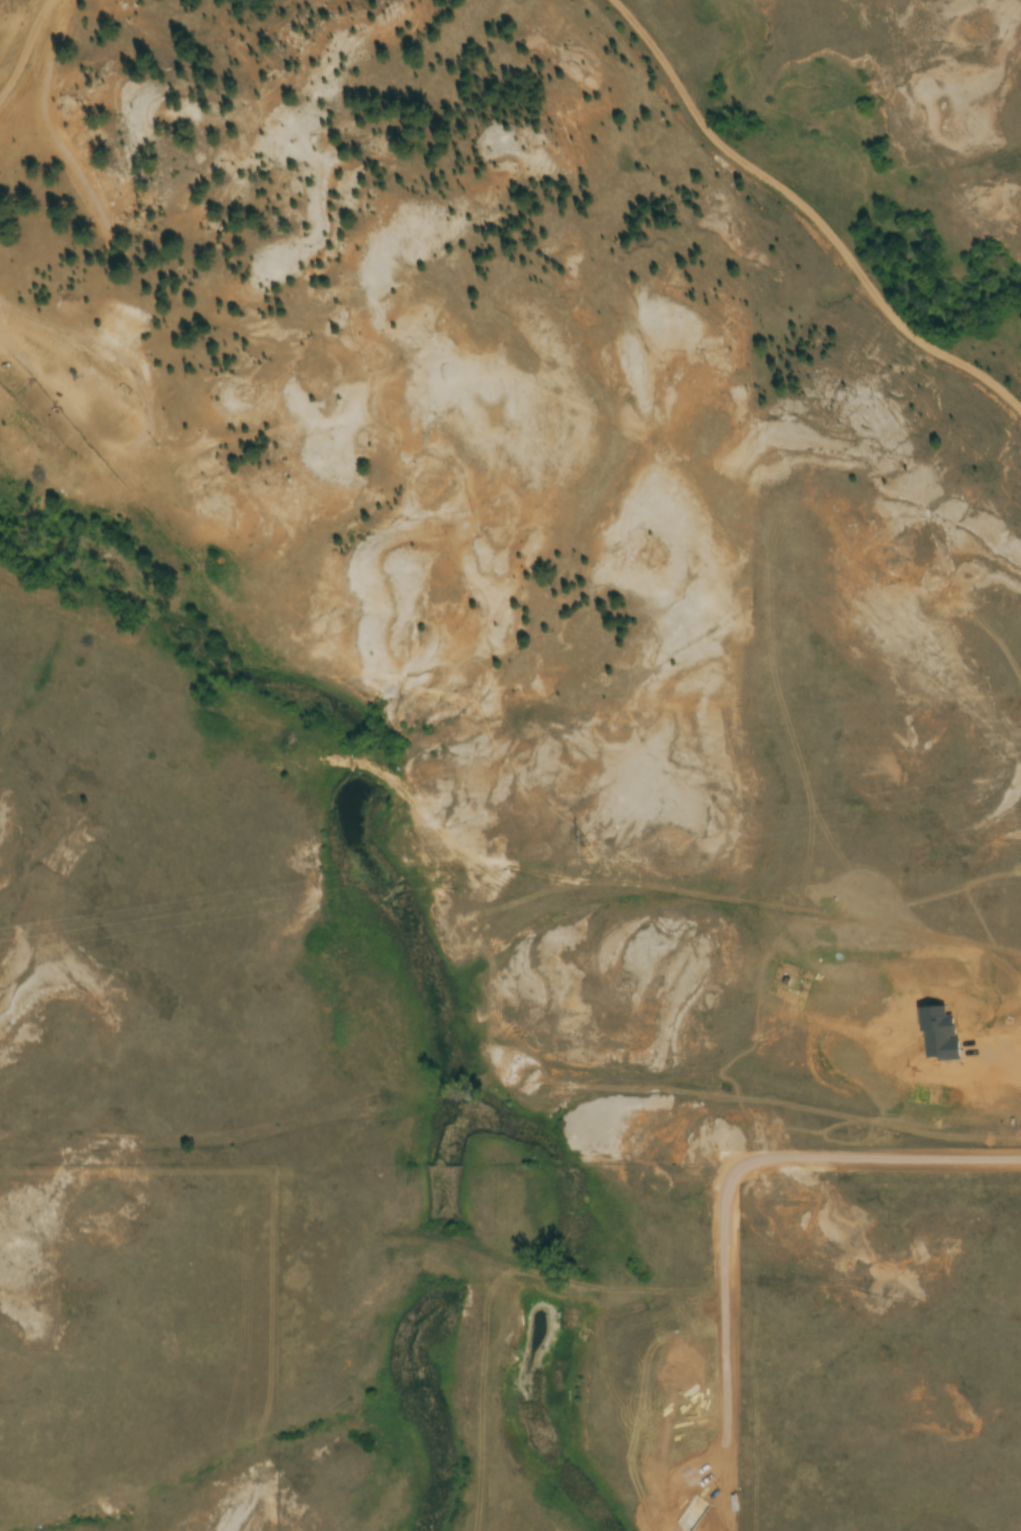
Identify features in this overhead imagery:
road: (806, 237)
power tower: (589, 851)

